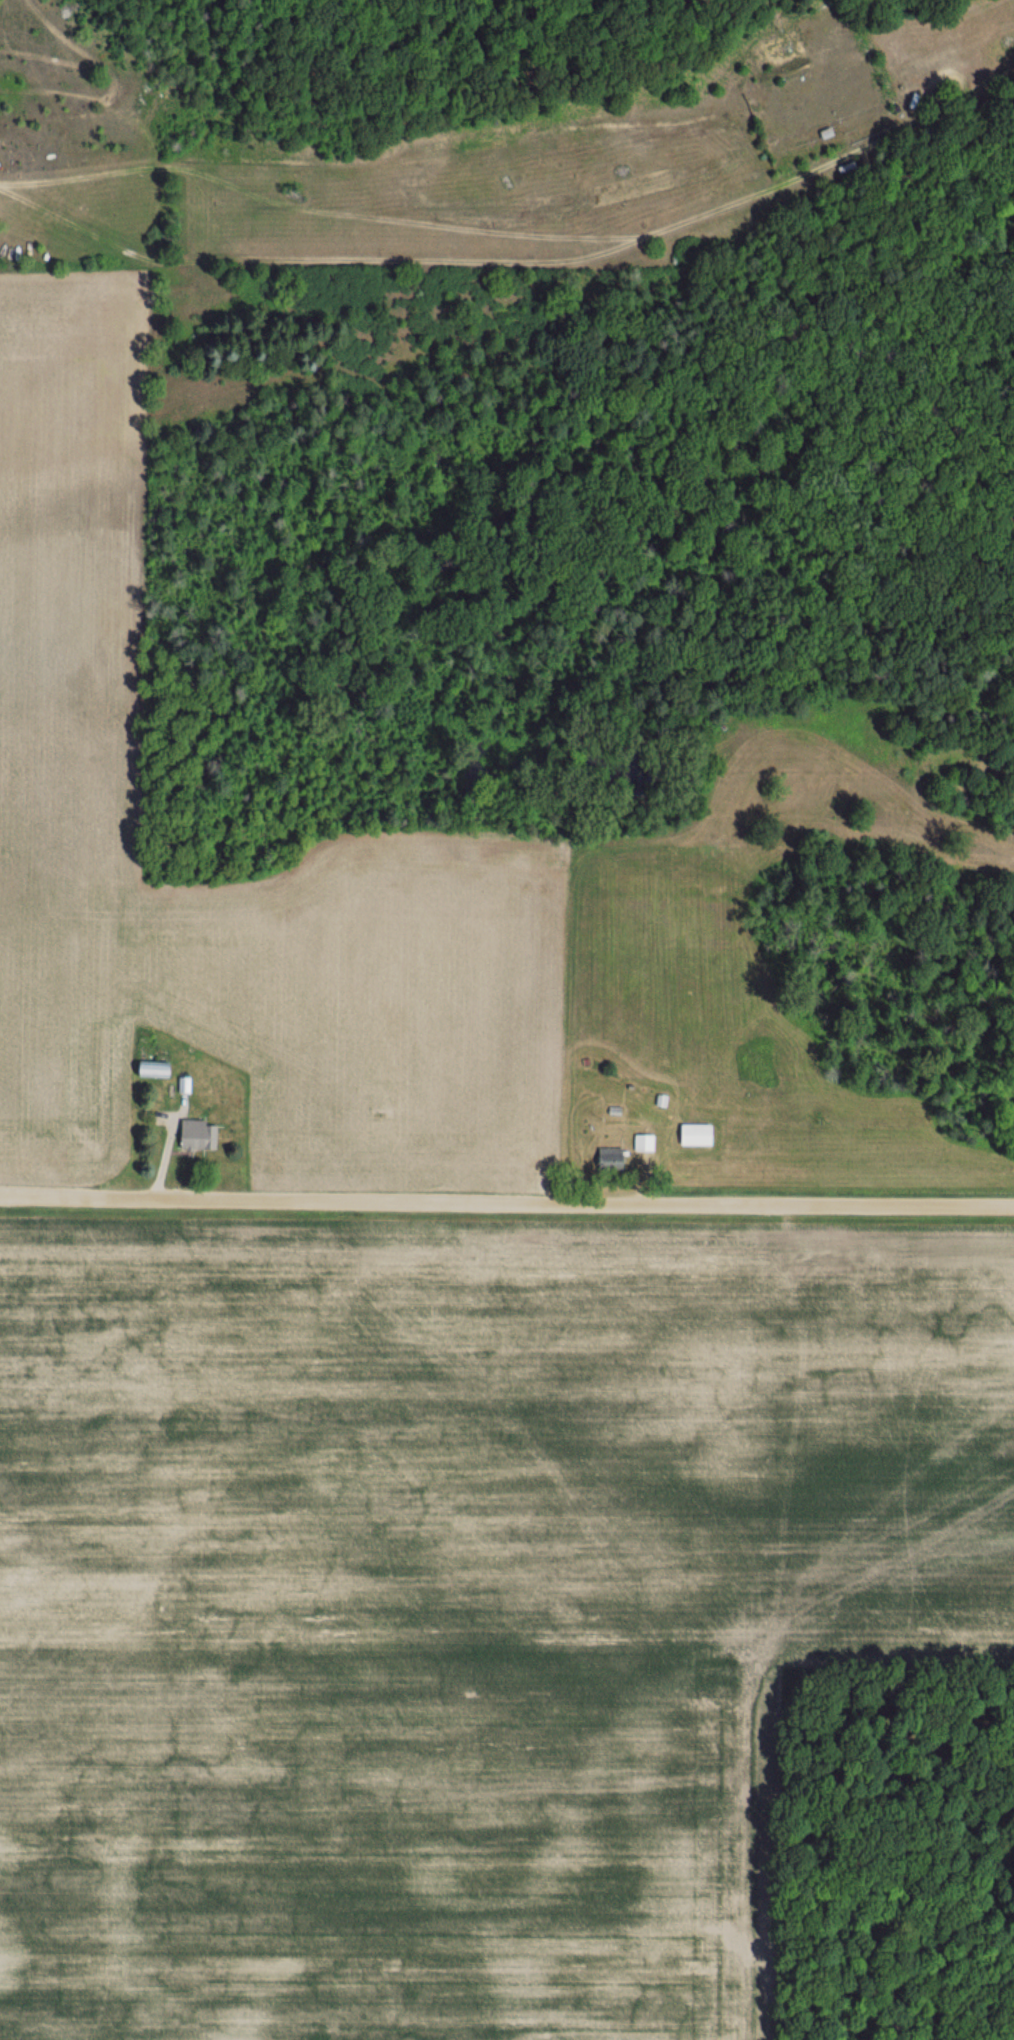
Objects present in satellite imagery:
building: (149, 1069)
building: (184, 1085)
building: (190, 1134)
building: (692, 1135)
building: (641, 1143)
building: (607, 1158)
road: (507, 1197)

